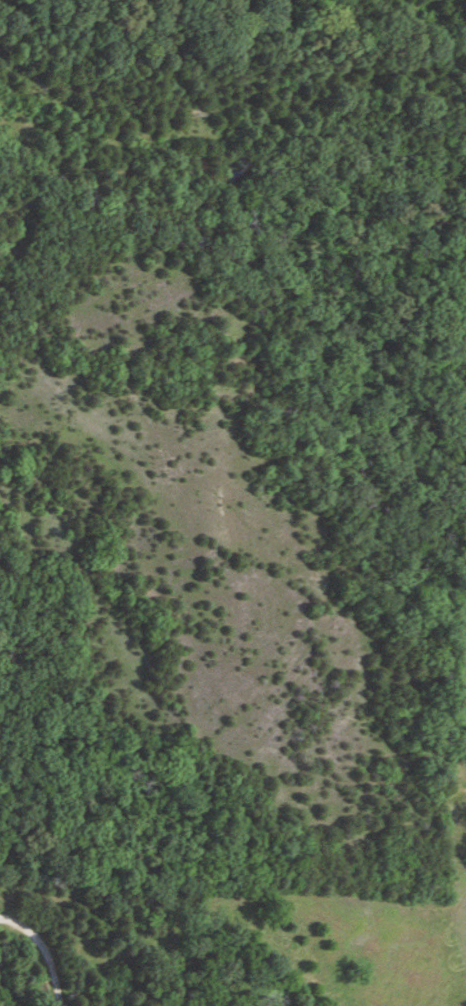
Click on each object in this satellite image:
road: (43, 952)

